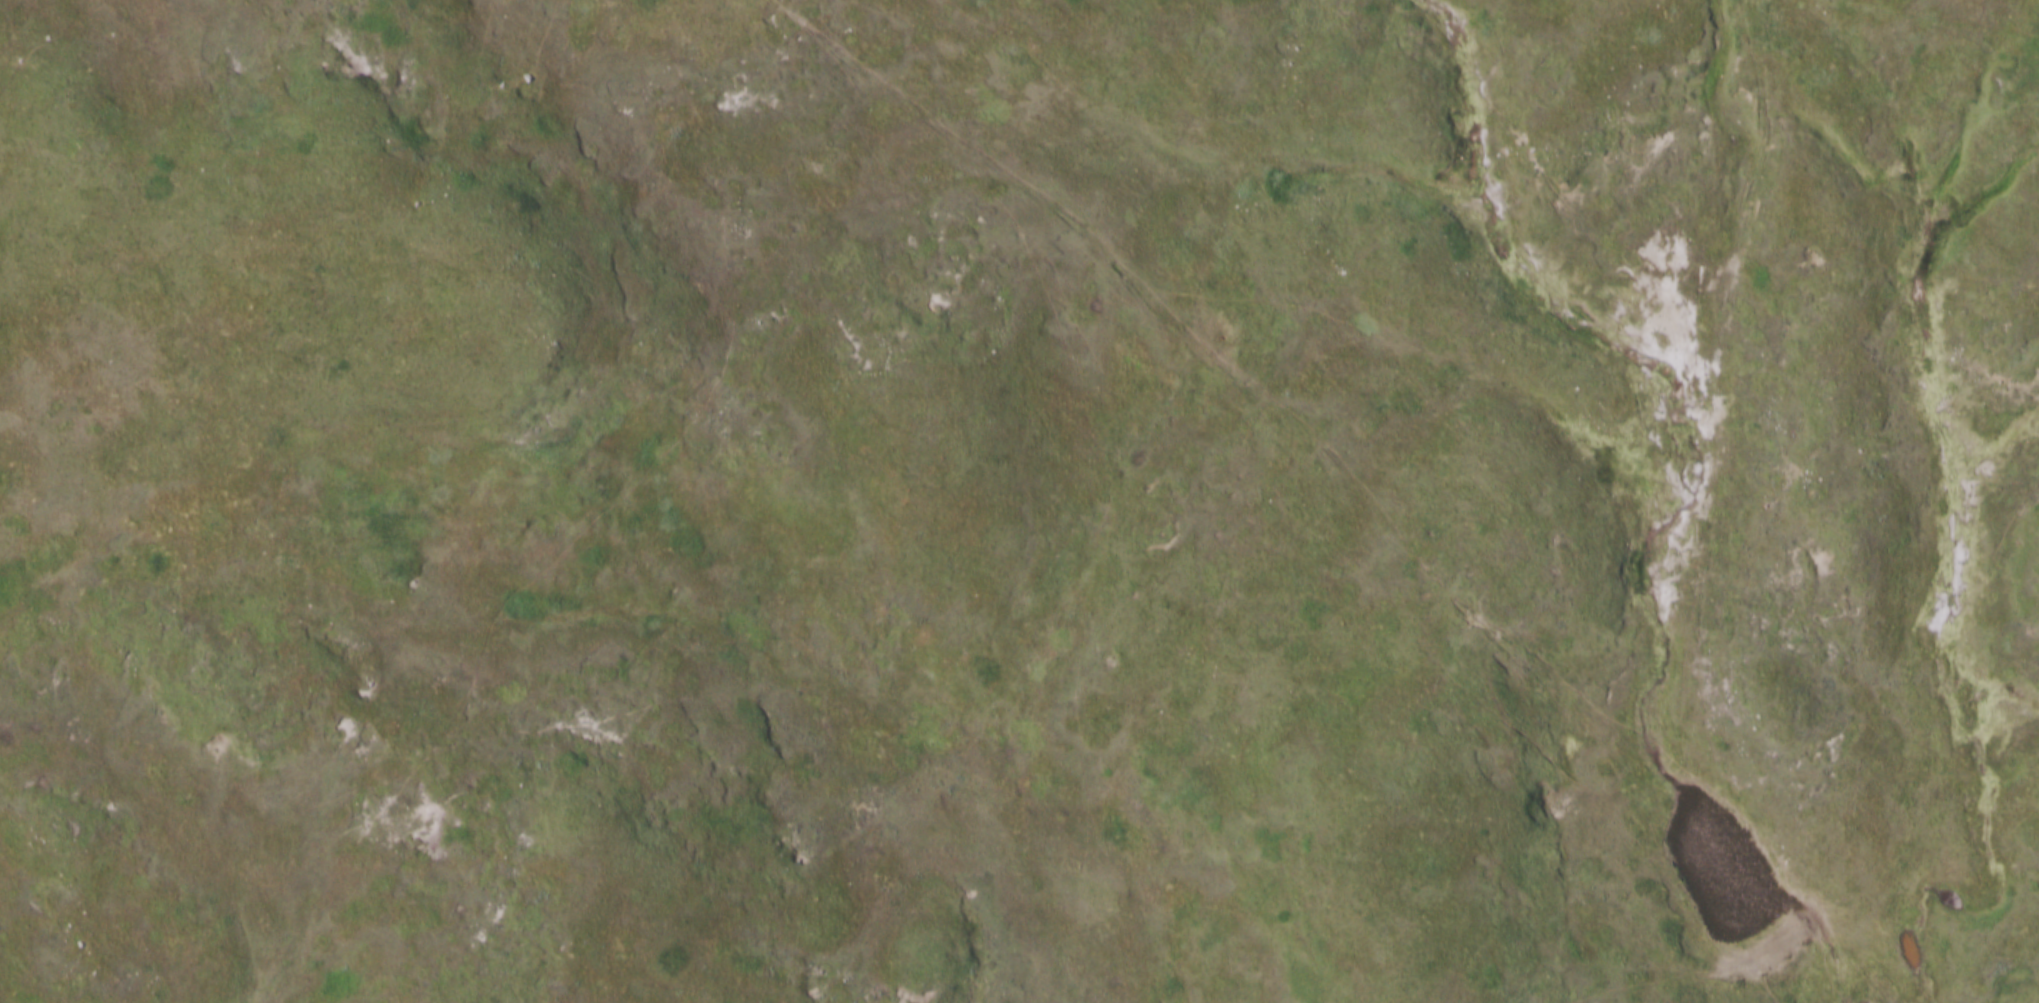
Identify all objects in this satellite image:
dam: (1769, 945)

